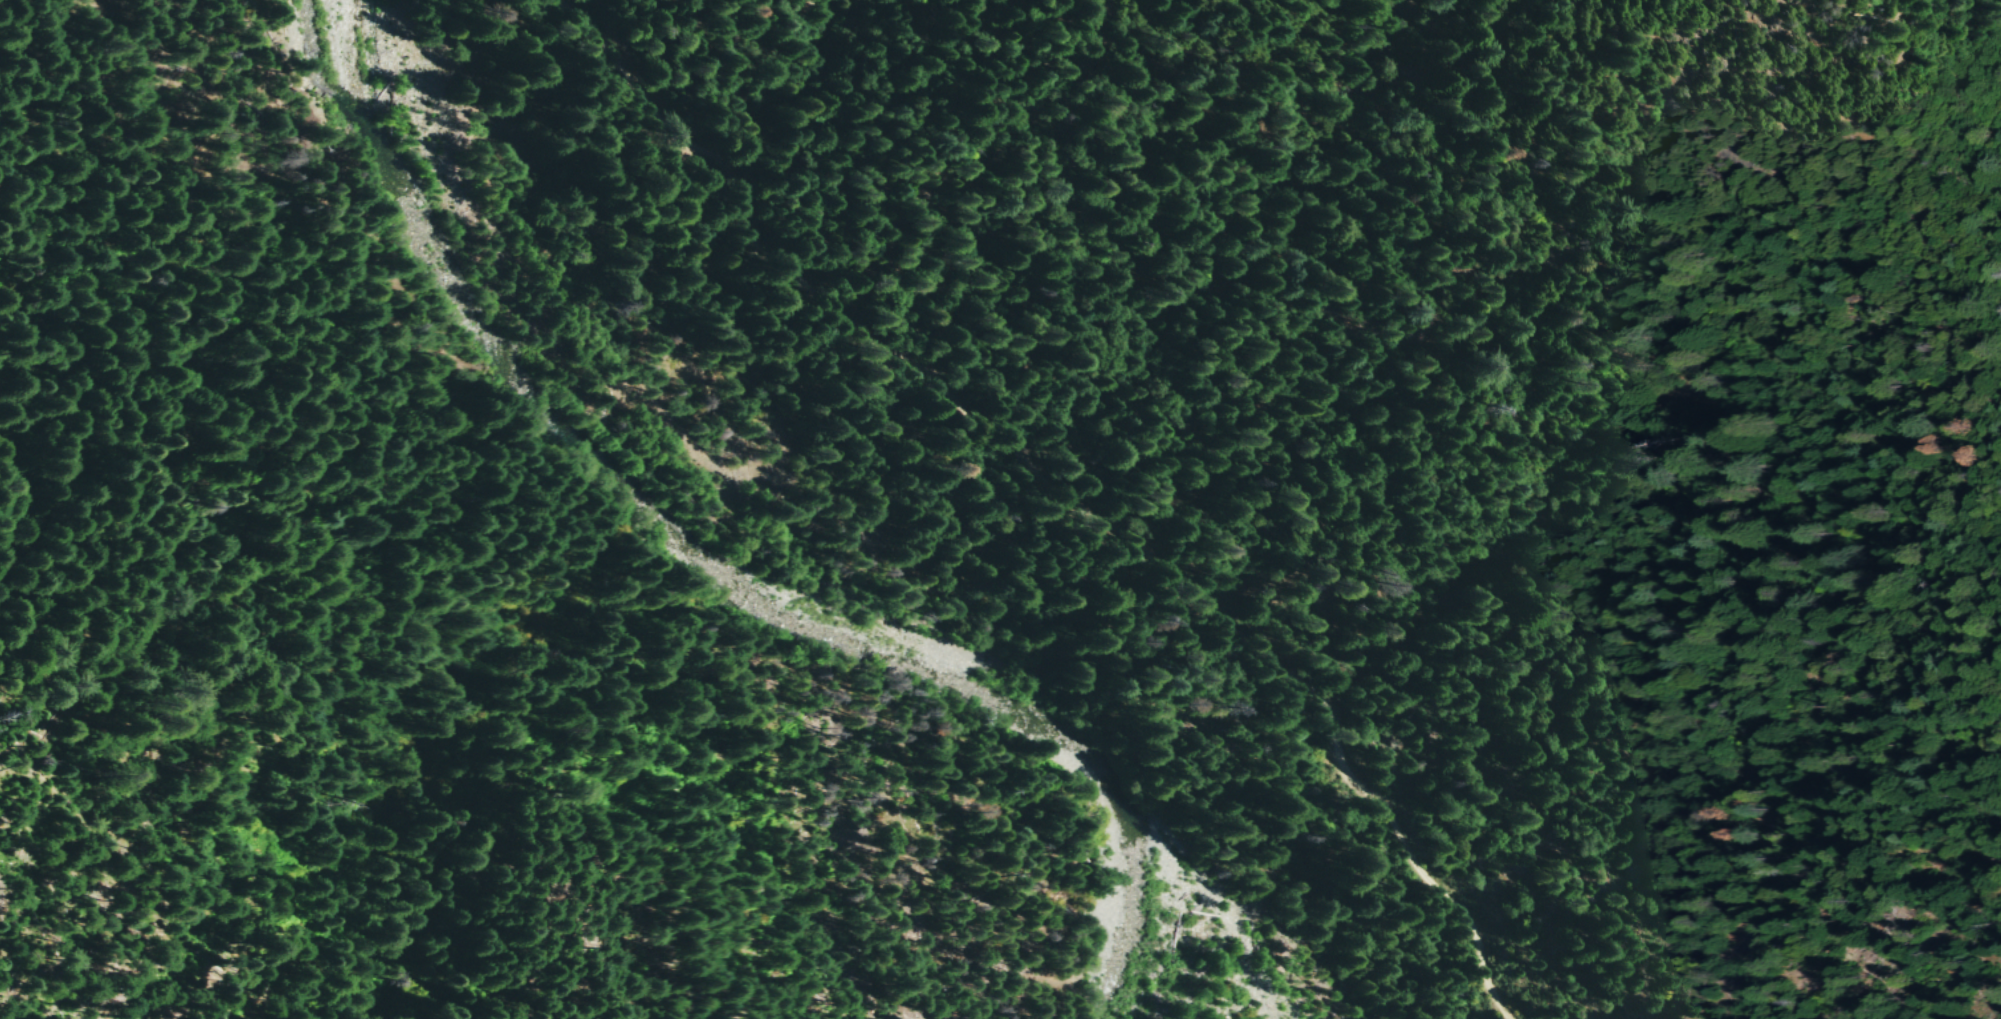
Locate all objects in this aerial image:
road: (1058, 486)
river: (710, 562)

